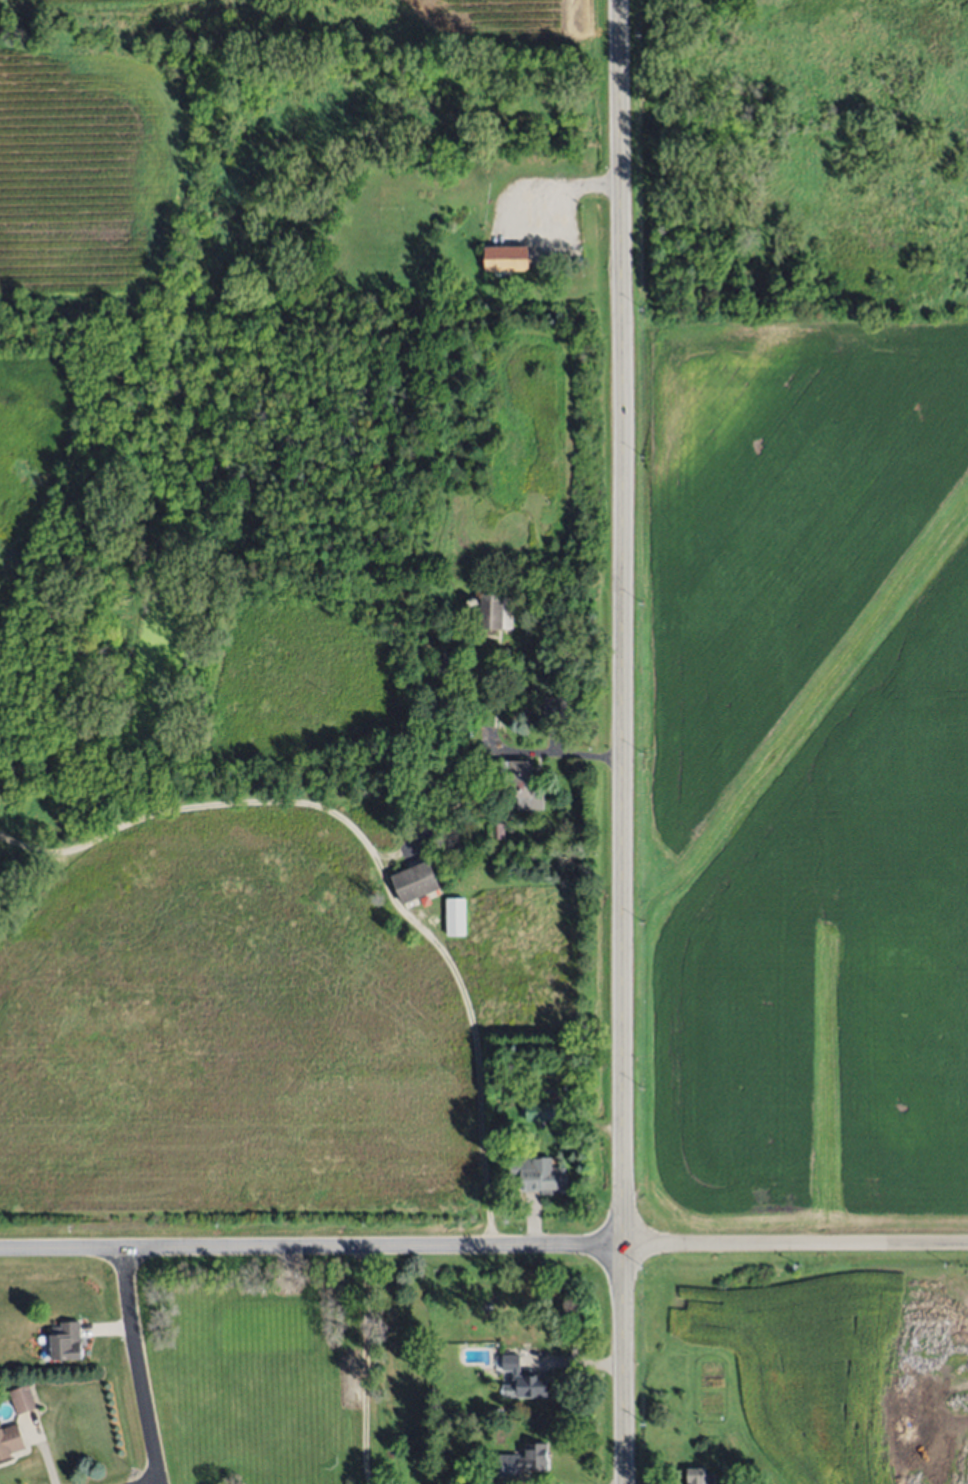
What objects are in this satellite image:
building: (525, 157)
road: (564, 192)
building: (506, 258)
building: (492, 612)
building: (505, 650)
building: (445, 660)
building: (554, 707)
road: (622, 741)
road: (470, 758)
building: (514, 777)
building: (498, 830)
road: (376, 861)
building: (415, 881)
building: (455, 917)
building: (539, 1111)
building: (539, 1172)
road: (795, 1244)
road: (310, 1247)
building: (66, 1340)
park: (246, 1362)
road: (363, 1365)
road: (139, 1366)
crop: (844, 1376)
building: (522, 1380)
building: (22, 1399)
building: (498, 1412)
building: (10, 1439)
building: (522, 1460)
building: (699, 1476)

